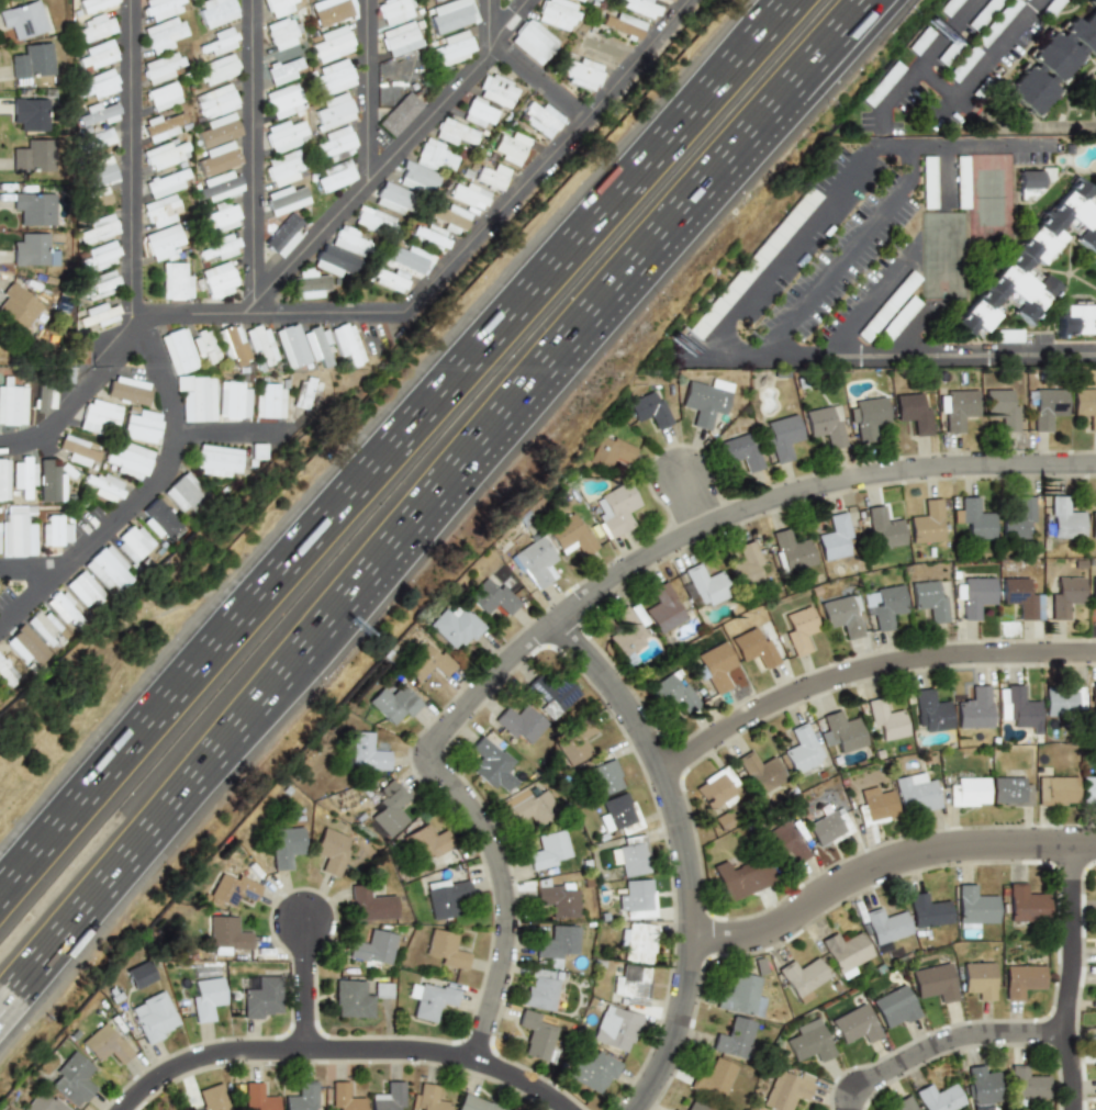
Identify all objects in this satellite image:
building: (433, 0)
building: (580, 0)
building: (596, 0)
building: (670, 0)
building: (92, 4)
building: (278, 7)
building: (1053, 7)
building: (161, 8)
building: (639, 8)
building: (215, 11)
building: (328, 11)
building: (393, 11)
building: (558, 13)
building: (984, 13)
building: (450, 15)
building: (24, 19)
building: (998, 22)
road: (491, 23)
building: (622, 25)
building: (94, 29)
building: (281, 33)
building: (163, 34)
road: (840, 35)
building: (400, 38)
road: (851, 38)
building: (921, 41)
building: (220, 42)
building: (534, 42)
building: (332, 44)
building: (452, 47)
building: (951, 51)
road: (929, 53)
building: (98, 55)
road: (988, 57)
building: (32, 61)
building: (1052, 61)
building: (964, 64)
building: (160, 68)
building: (216, 69)
building: (282, 70)
building: (580, 72)
building: (333, 77)
road: (537, 81)
road: (937, 81)
building: (97, 83)
building: (883, 83)
road: (371, 89)
building: (497, 91)
building: (163, 97)
building: (215, 101)
building: (283, 101)
building: (333, 112)
building: (479, 112)
building: (30, 113)
building: (97, 114)
building: (400, 114)
building: (540, 119)
road: (884, 119)
road: (1020, 125)
building: (160, 127)
building: (217, 131)
building: (455, 133)
building: (286, 135)
building: (97, 139)
building: (334, 143)
road: (907, 143)
road: (996, 144)
building: (510, 147)
road: (394, 153)
building: (166, 154)
building: (32, 156)
building: (435, 156)
road: (135, 157)
road: (253, 157)
building: (216, 158)
building: (283, 167)
building: (98, 172)
road: (943, 175)
building: (335, 176)
building: (492, 177)
building: (417, 179)
building: (929, 182)
building: (961, 182)
building: (165, 183)
building: (1028, 183)
building: (217, 186)
building: (468, 197)
building: (391, 198)
building: (96, 199)
building: (286, 199)
building: (34, 208)
building: (160, 211)
building: (451, 217)
building: (220, 218)
building: (373, 221)
building: (98, 229)
building: (428, 235)
building: (283, 236)
building: (349, 240)
building: (161, 242)
building: (217, 248)
building: (31, 249)
road: (786, 250)
road: (845, 251)
road: (454, 254)
building: (99, 256)
building: (406, 258)
building: (1035, 259)
building: (334, 261)
building: (752, 264)
building: (219, 279)
building: (390, 280)
building: (175, 282)
building: (99, 285)
road: (870, 300)
building: (887, 305)
building: (18, 306)
building: (98, 315)
building: (898, 317)
building: (1076, 319)
building: (1008, 336)
building: (260, 343)
building: (347, 343)
building: (232, 344)
building: (204, 346)
building: (291, 346)
building: (318, 346)
road: (573, 347)
building: (178, 350)
road: (819, 351)
road: (1017, 354)
building: (127, 390)
building: (307, 393)
building: (43, 397)
building: (197, 397)
road: (83, 400)
building: (234, 400)
building: (706, 401)
building: (270, 402)
building: (1083, 403)
building: (12, 405)
building: (1048, 407)
building: (957, 408)
building: (1000, 408)
building: (649, 410)
building: (913, 413)
building: (100, 416)
building: (868, 417)
building: (142, 425)
building: (826, 426)
road: (236, 435)
building: (782, 438)
road: (392, 444)
building: (77, 450)
building: (259, 450)
building: (612, 450)
building: (741, 452)
building: (127, 458)
building: (219, 460)
building: (22, 475)
building: (3, 479)
building: (49, 482)
building: (103, 485)
building: (186, 493)
road: (146, 496)
road: (697, 503)
building: (617, 509)
building: (1019, 517)
building: (974, 518)
building: (1064, 518)
building: (161, 519)
building: (927, 520)
building: (1093, 523)
building: (885, 526)
building: (56, 530)
building: (19, 531)
building: (571, 536)
building: (836, 536)
building: (134, 543)
building: (792, 549)
building: (535, 562)
building: (747, 565)
building: (108, 568)
road: (35, 570)
building: (707, 585)
building: (1094, 586)
building: (86, 588)
building: (1066, 596)
building: (975, 597)
building: (1021, 597)
building: (492, 598)
building: (931, 599)
road: (579, 602)
building: (885, 606)
building: (66, 607)
building: (663, 608)
building: (843, 616)
building: (454, 626)
building: (45, 627)
building: (629, 630)
building: (801, 630)
building: (27, 644)
building: (754, 650)
building: (427, 662)
road: (865, 665)
building: (717, 669)
building: (8, 672)
building: (674, 693)
building: (552, 694)
building: (1063, 700)
building: (1093, 700)
building: (393, 703)
building: (973, 708)
building: (1017, 709)
building: (929, 710)
building: (885, 720)
building: (518, 725)
building: (840, 731)
building: (573, 743)
building: (801, 749)
building: (368, 752)
building: (489, 760)
building: (759, 771)
building: (605, 776)
building: (715, 788)
building: (1055, 791)
building: (1089, 791)
building: (968, 792)
building: (1009, 792)
building: (916, 793)
building: (529, 806)
building: (875, 806)
building: (391, 807)
building: (617, 812)
road: (168, 820)
building: (723, 820)
building: (827, 827)
building: (787, 842)
building: (433, 844)
building: (286, 846)
building: (549, 850)
building: (332, 851)
road: (681, 853)
building: (633, 854)
road: (884, 861)
building: (742, 878)
building: (234, 889)
building: (446, 896)
building: (639, 898)
building: (556, 899)
building: (369, 904)
building: (1022, 904)
building: (976, 905)
building: (928, 910)
building: (886, 926)
building: (227, 934)
building: (637, 942)
building: (557, 944)
building: (373, 946)
building: (448, 949)
building: (845, 952)
building: (139, 974)
building: (803, 977)
road: (1076, 977)
building: (980, 979)
building: (1021, 979)
building: (936, 982)
building: (631, 985)
building: (383, 988)
road: (314, 989)
building: (540, 990)
building: (741, 996)
building: (261, 997)
building: (206, 998)
building: (353, 999)
building: (432, 999)
building: (895, 1008)
building: (154, 1017)
building: (855, 1024)
building: (616, 1029)
building: (534, 1034)
building: (734, 1038)
building: (810, 1041)
building: (107, 1044)
road: (951, 1046)
road: (340, 1051)
building: (593, 1072)
building: (72, 1079)
building: (714, 1079)
building: (1027, 1084)
building: (981, 1087)
building: (786, 1088)
building: (346, 1096)
building: (388, 1096)
building: (259, 1097)
building: (301, 1097)
building: (428, 1097)
building: (213, 1098)
building: (940, 1098)
building: (43, 1103)
building: (474, 1103)
building: (903, 1103)
building: (702, 1105)
building: (676, 1109)

